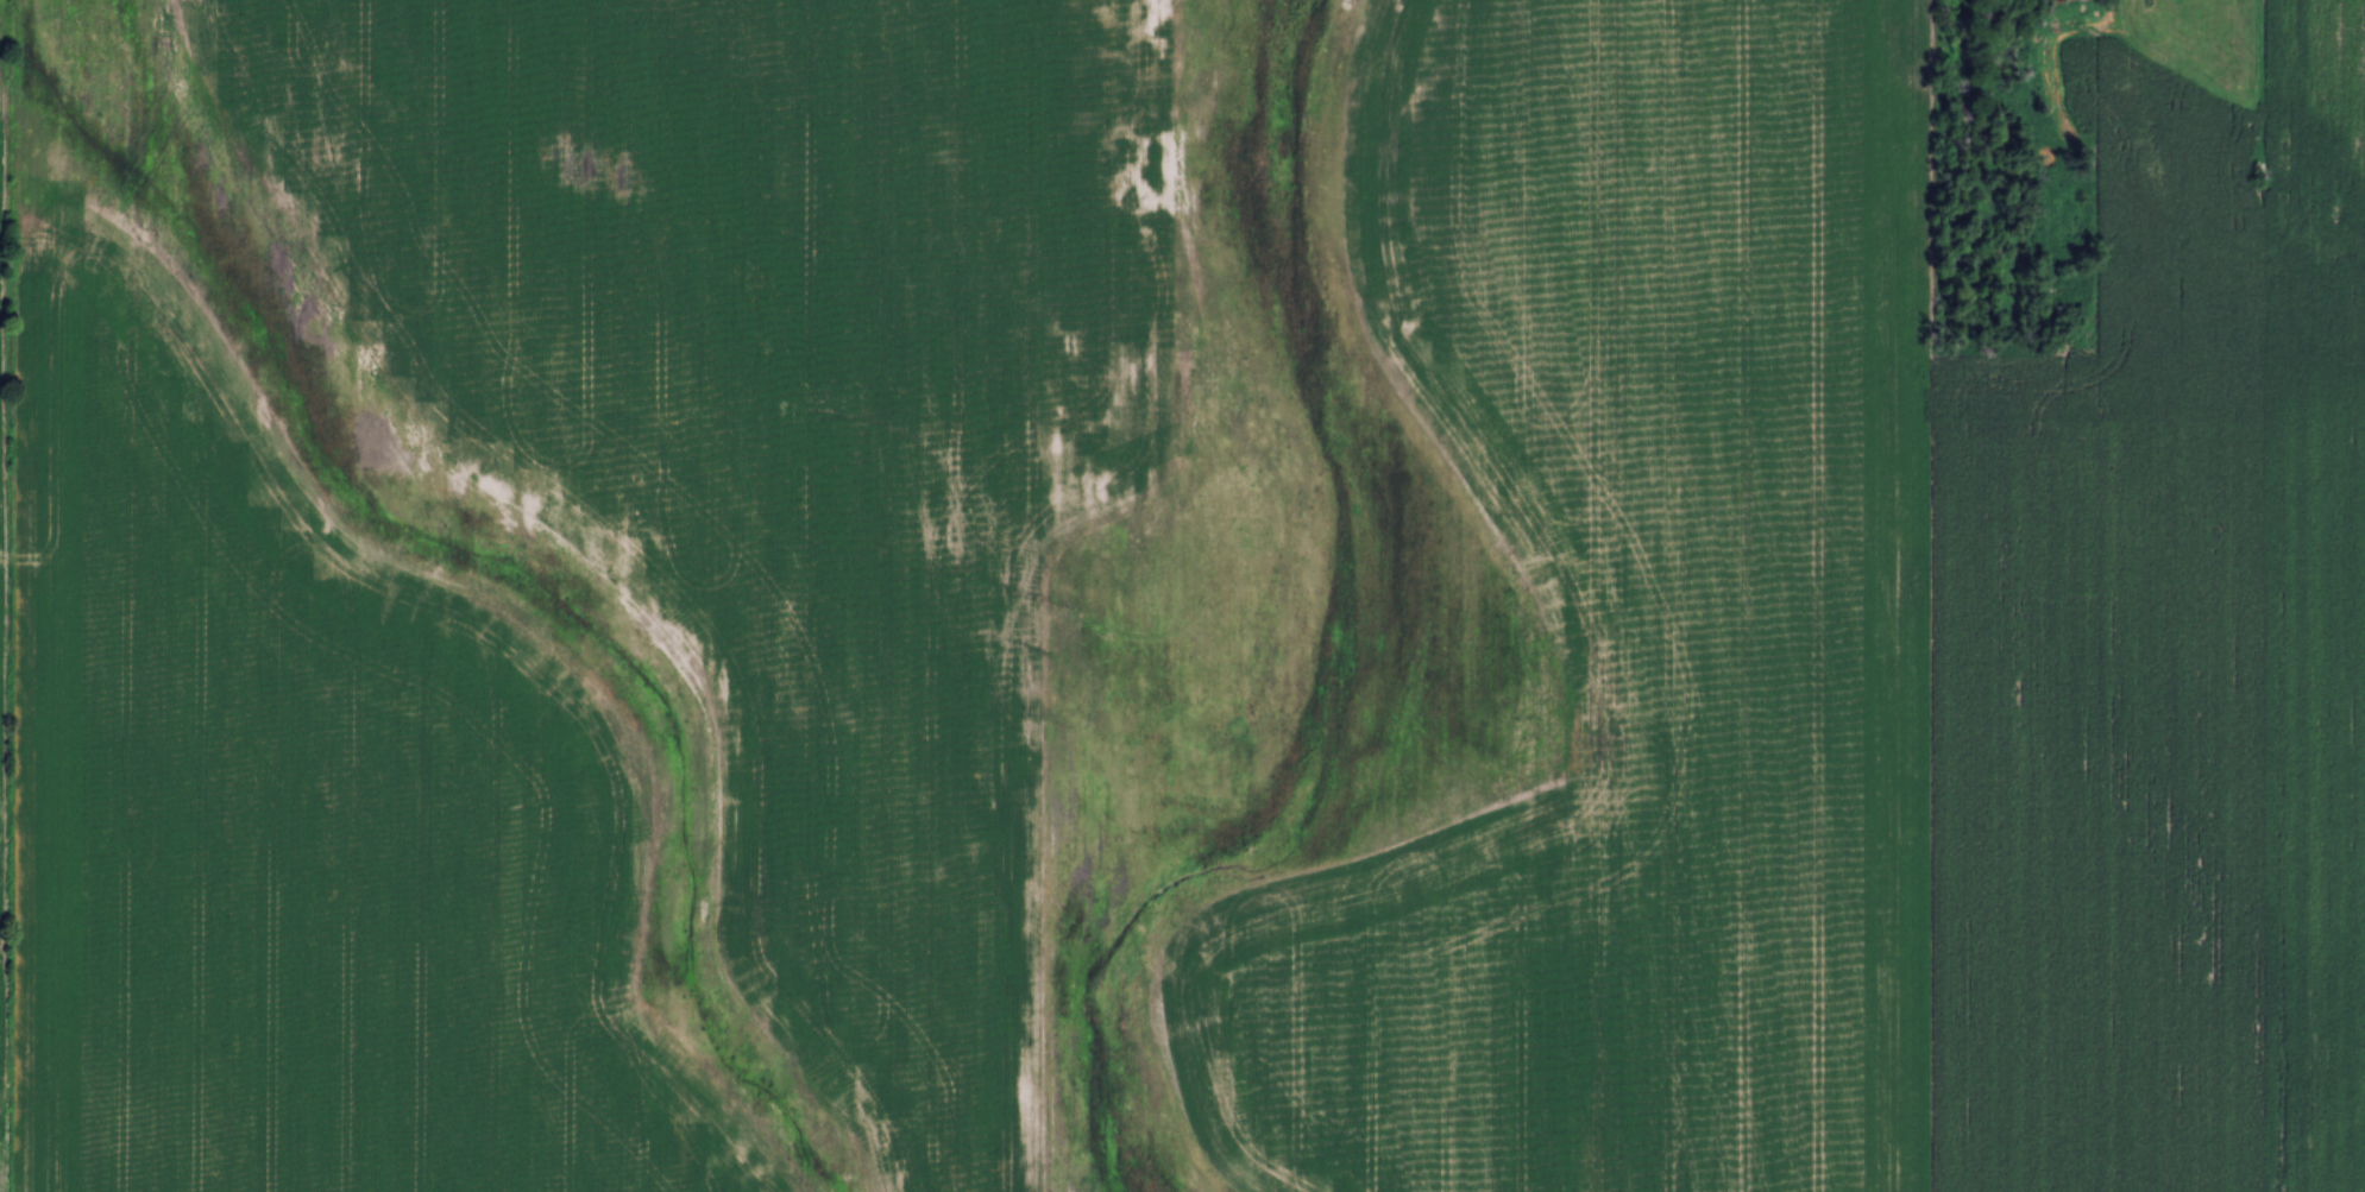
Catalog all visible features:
building: (2232, 232)

